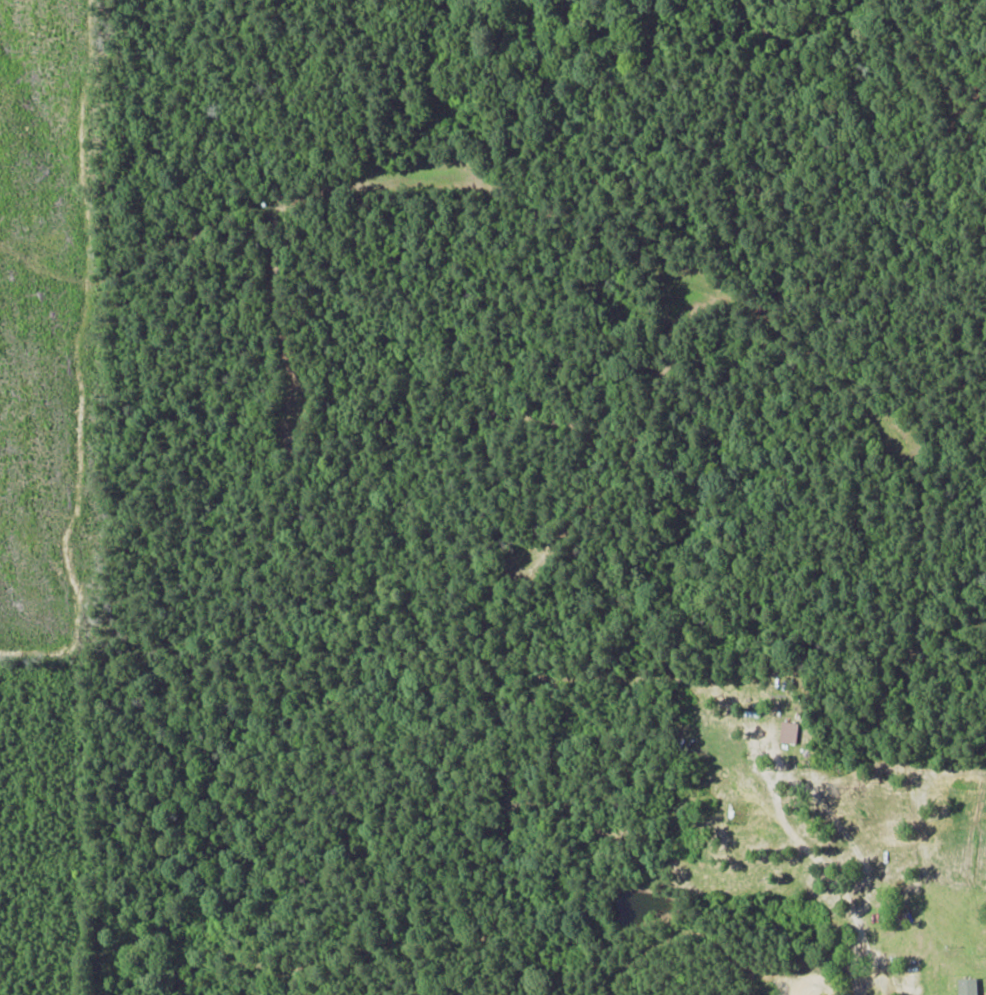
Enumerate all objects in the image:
building: (789, 732)
building: (967, 986)

